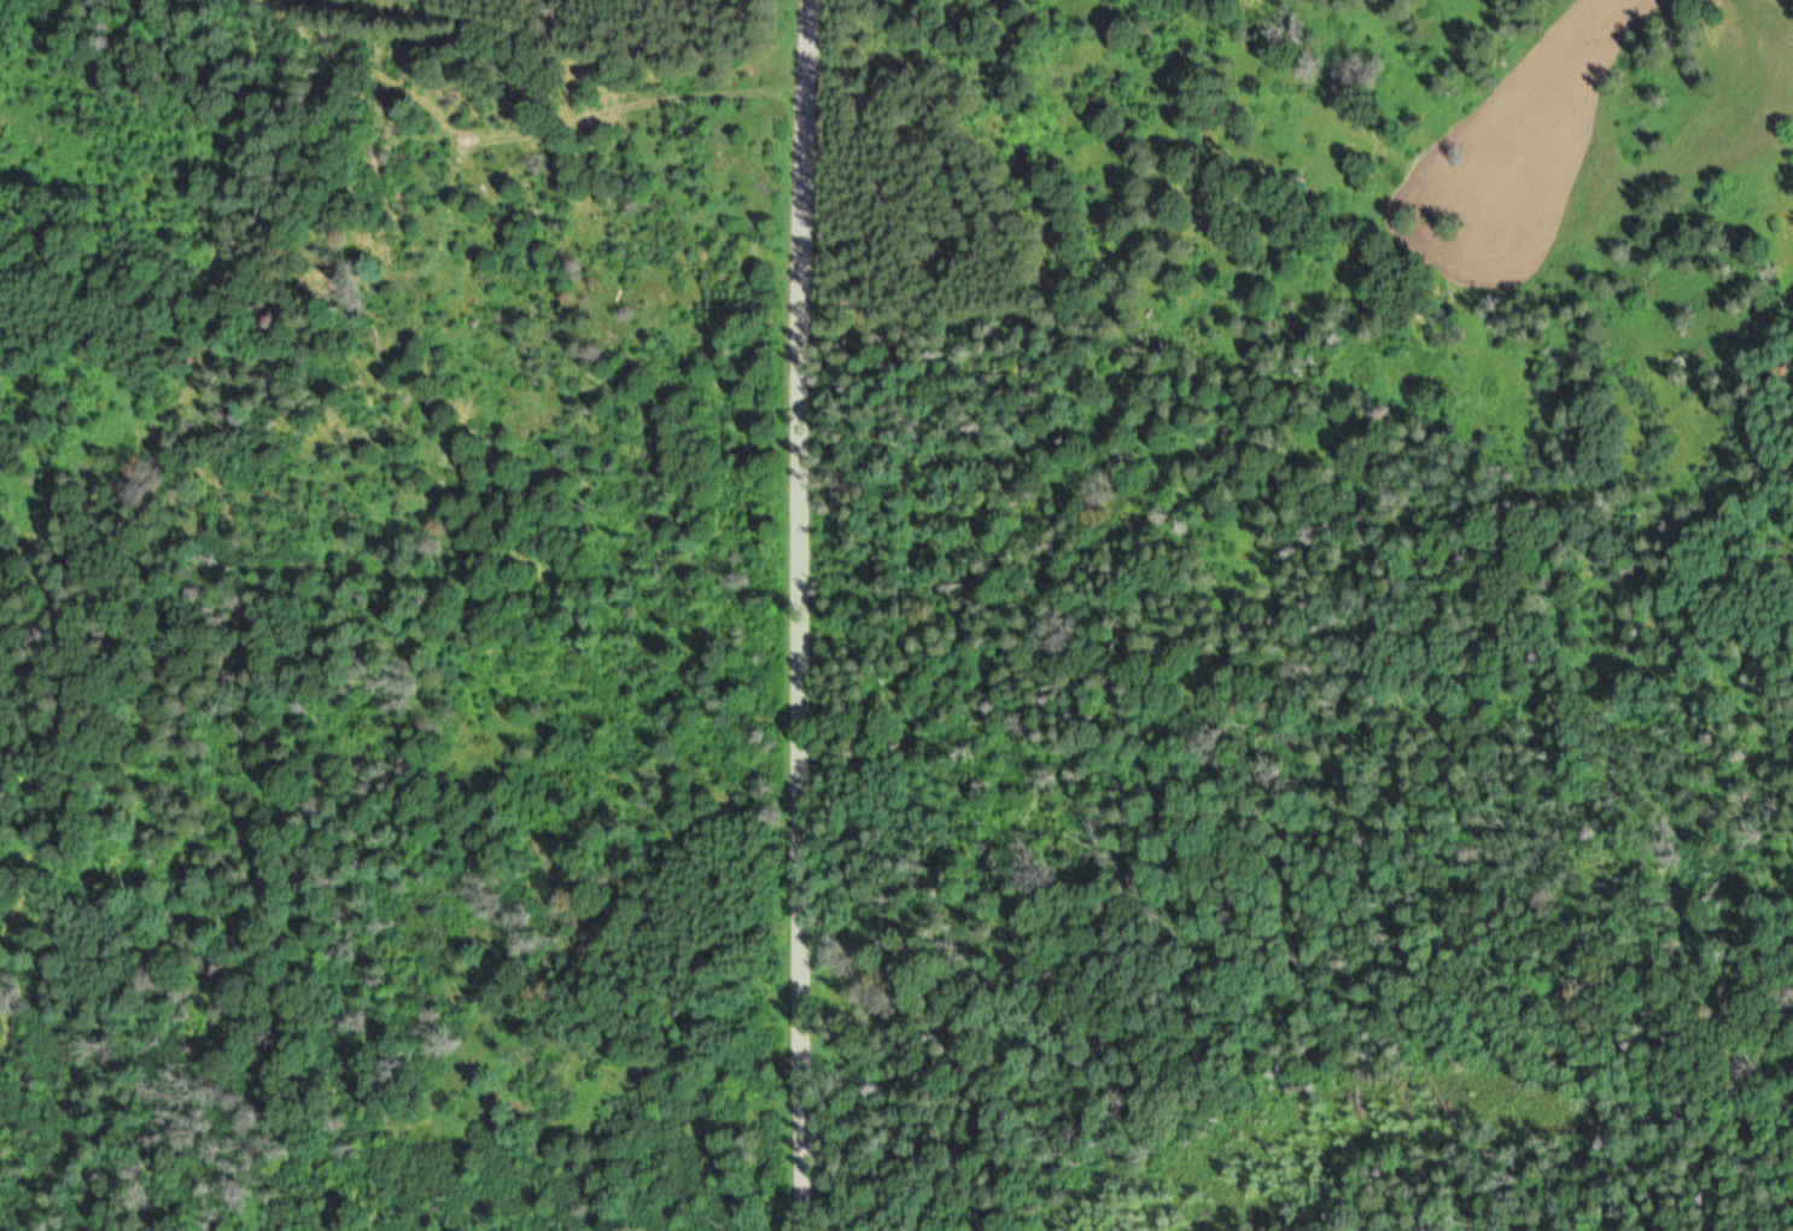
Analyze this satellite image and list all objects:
road: (812, 615)

